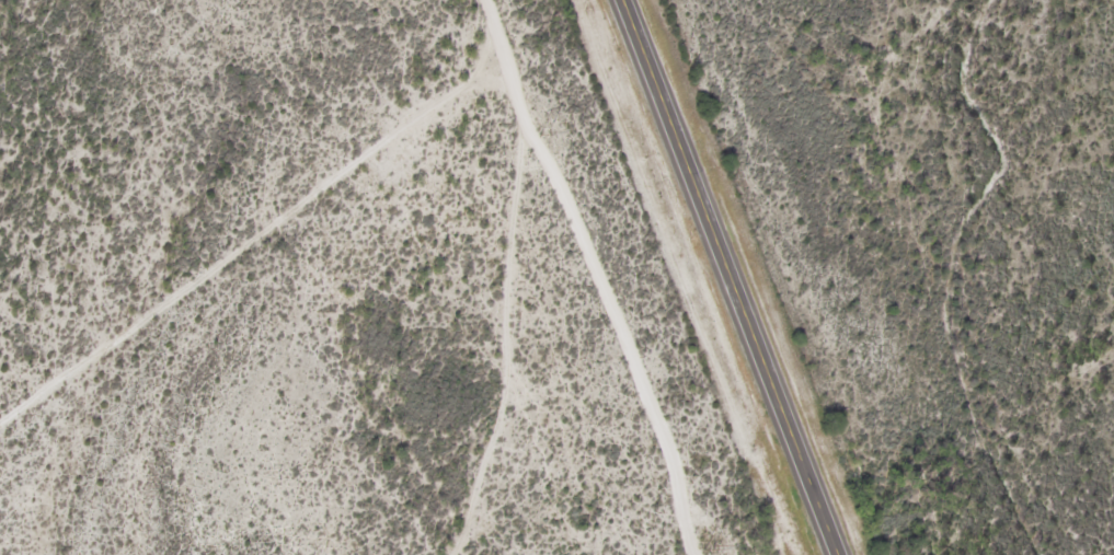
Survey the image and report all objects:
road: (1107, 3)
power tower: (544, 135)
road: (732, 277)
road: (519, 345)
power tower: (707, 550)

